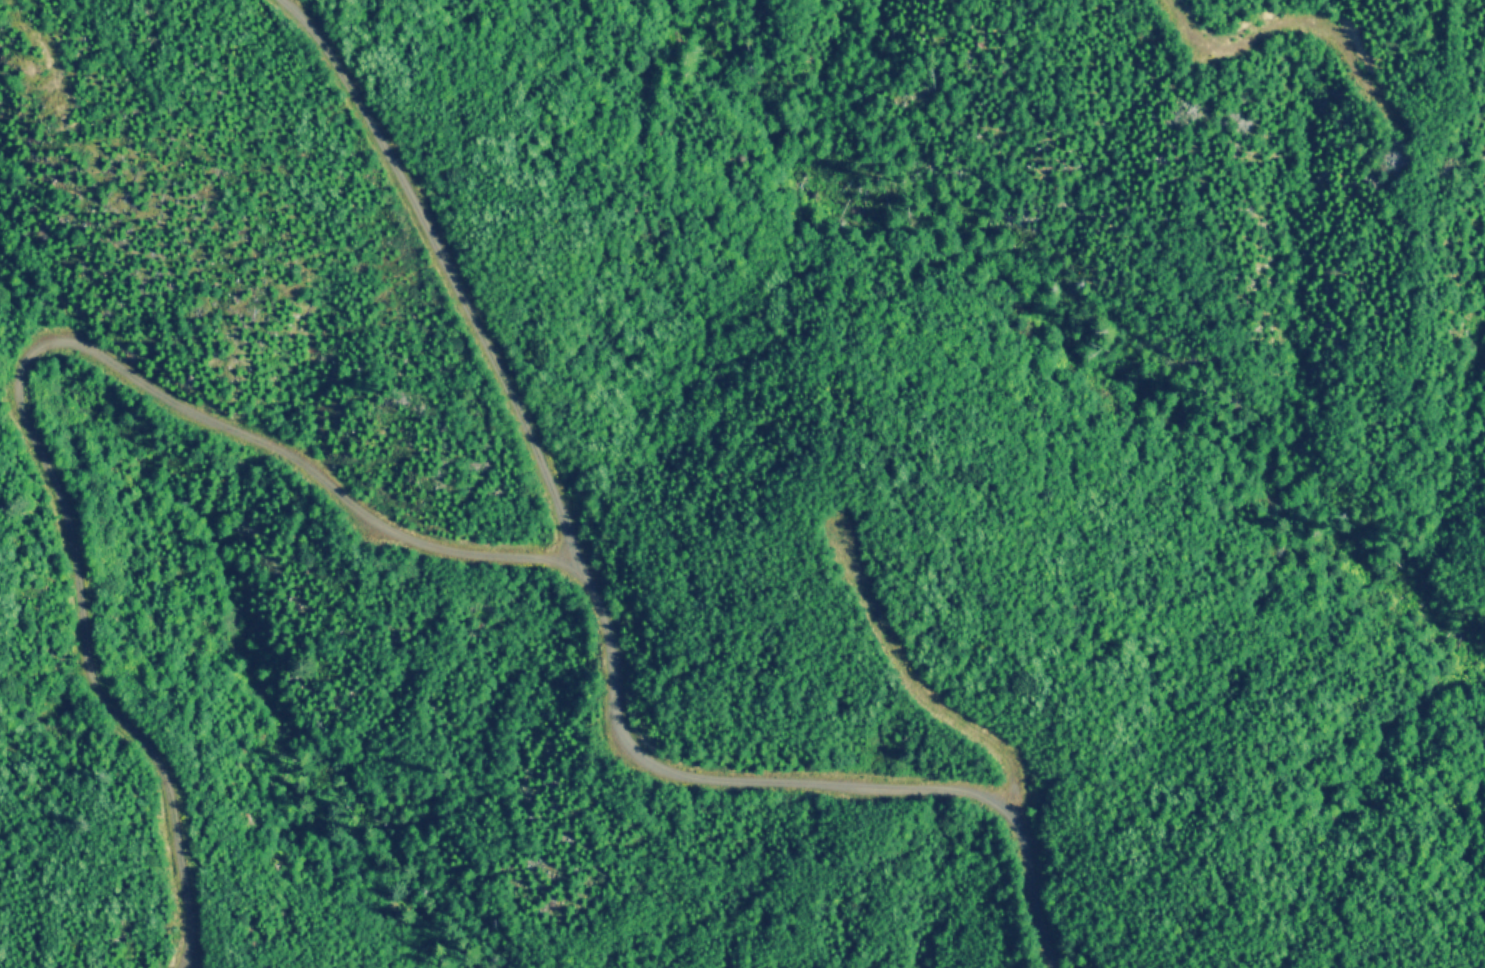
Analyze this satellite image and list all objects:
road: (447, 282)
road: (12, 374)
road: (812, 787)

